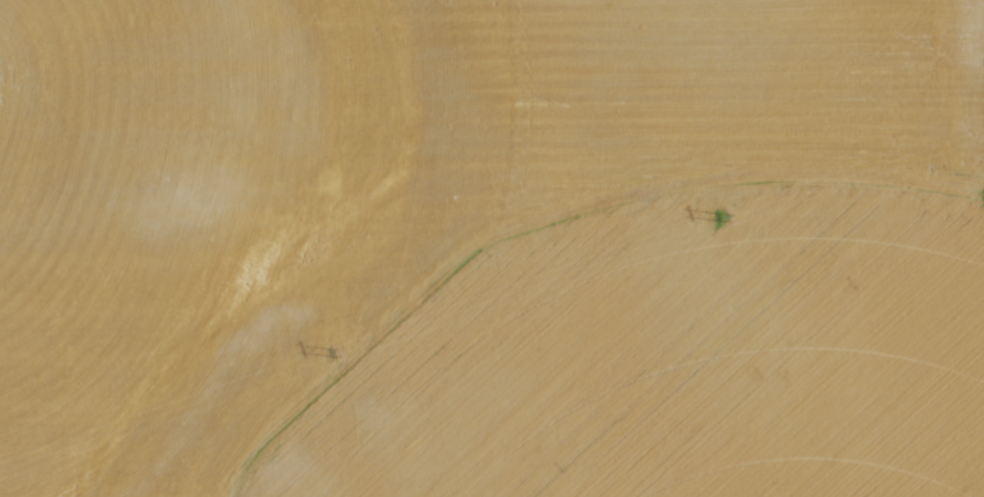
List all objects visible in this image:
power tower: (719, 215)
power tower: (330, 352)

